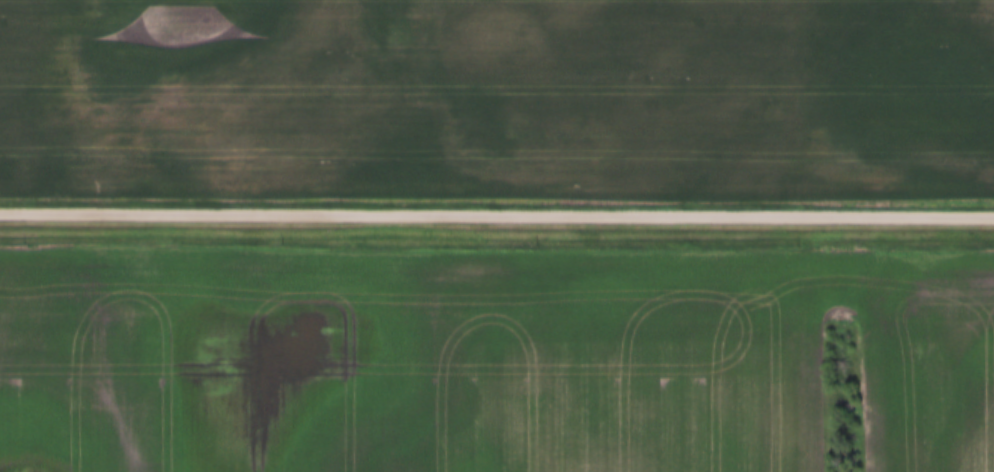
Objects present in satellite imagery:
road: (496, 215)

